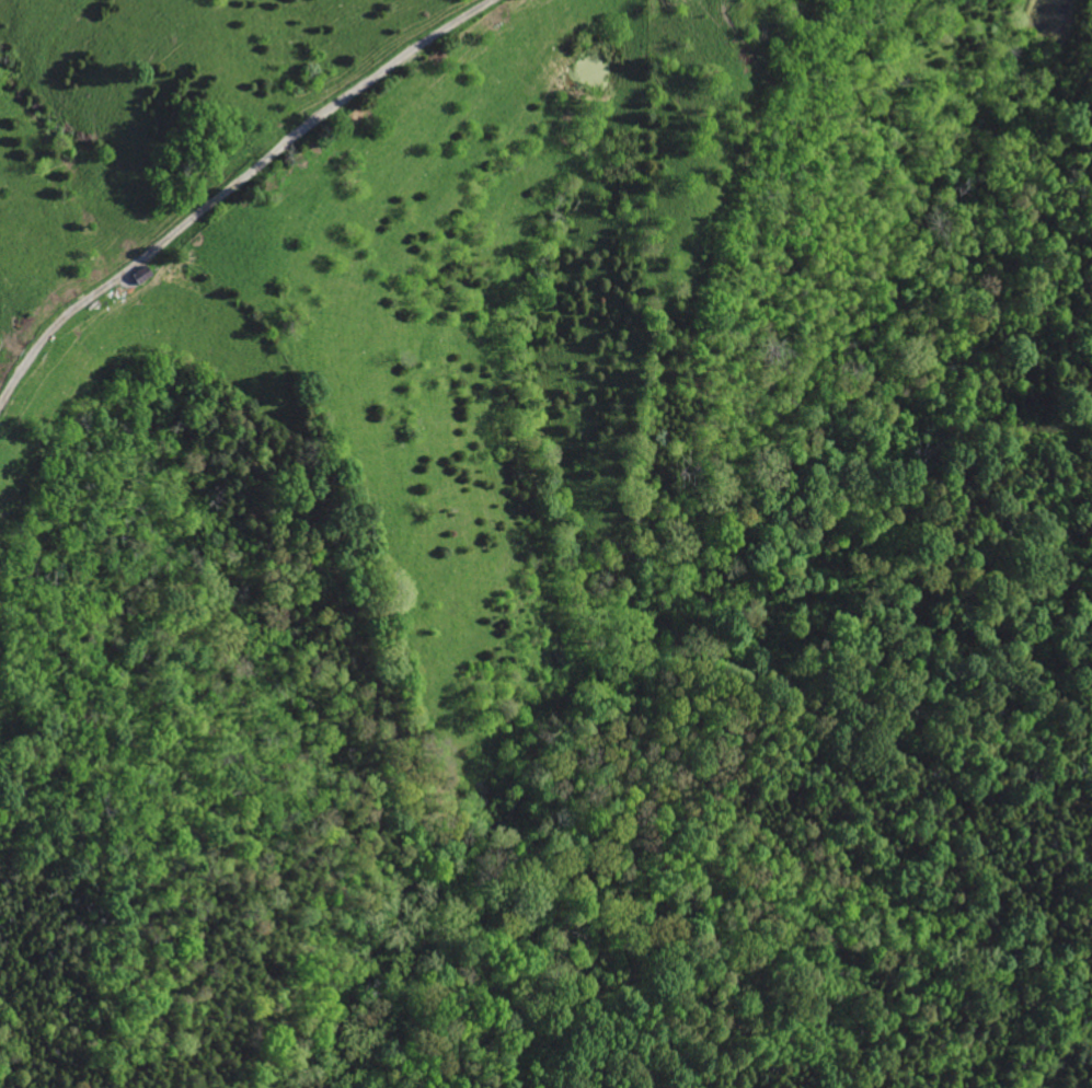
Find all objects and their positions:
road: (230, 187)

